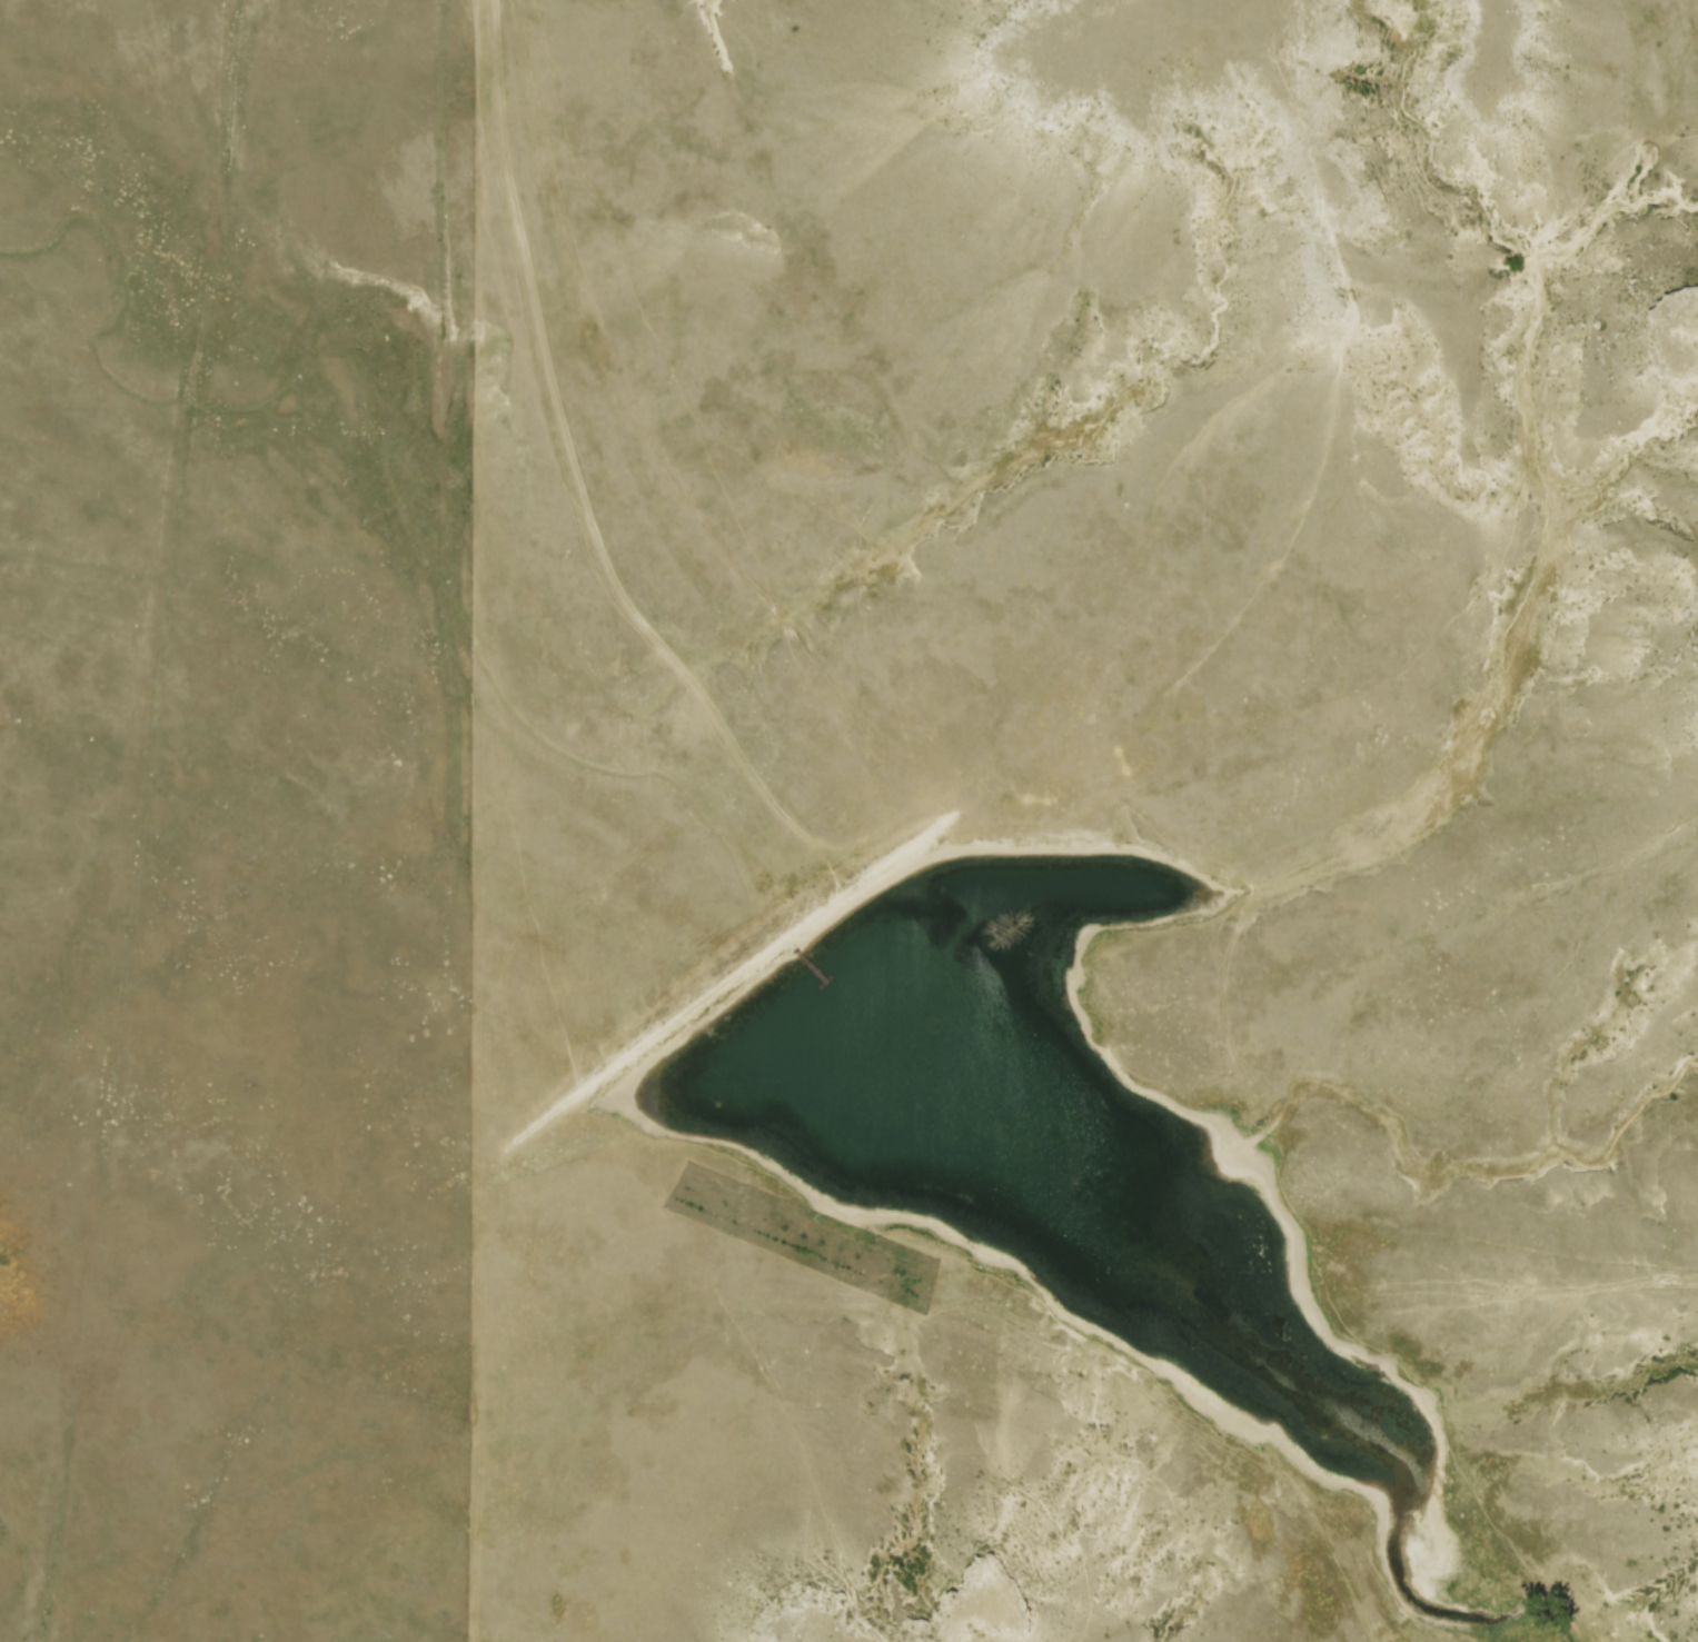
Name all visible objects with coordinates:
dam: (743, 964)

